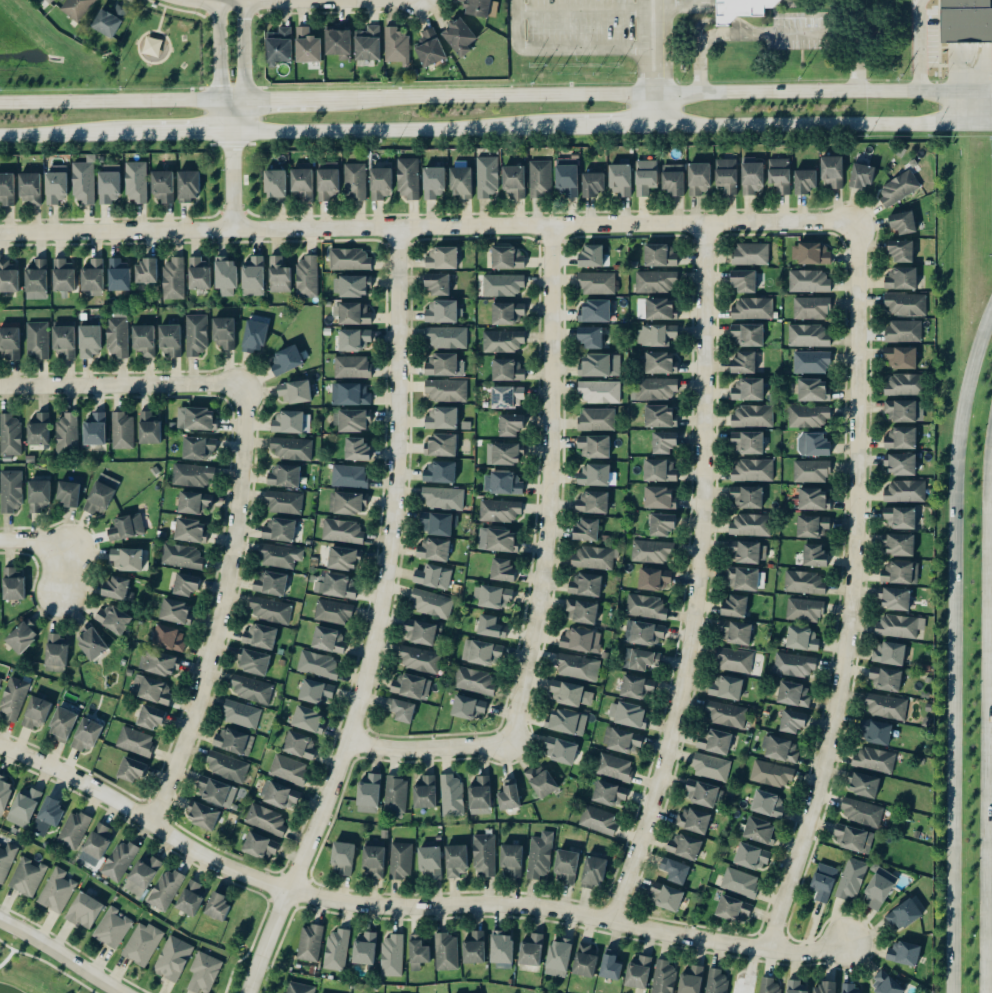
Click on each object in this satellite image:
road: (220, 0)
road: (332, 0)
building: (50, 1)
road: (225, 1)
building: (481, 7)
building: (77, 8)
building: (741, 9)
building: (962, 19)
building: (109, 21)
road: (724, 22)
road: (643, 24)
road: (749, 28)
road: (697, 29)
road: (838, 35)
building: (460, 36)
road: (731, 36)
building: (338, 43)
building: (368, 43)
road: (243, 45)
building: (152, 46)
building: (279, 46)
building: (308, 46)
building: (397, 46)
building: (430, 48)
road: (557, 48)
road: (663, 48)
park: (158, 51)
road: (219, 68)
road: (646, 72)
road: (700, 73)
road: (824, 94)
road: (503, 100)
road: (296, 106)
road: (109, 108)
road: (230, 108)
road: (969, 109)
road: (240, 112)
road: (656, 112)
road: (496, 130)
building: (832, 171)
building: (727, 175)
building: (780, 175)
building: (752, 176)
building: (861, 176)
building: (488, 177)
building: (646, 177)
building: (541, 178)
building: (409, 179)
building: (621, 179)
building: (674, 179)
building: (700, 179)
building: (567, 180)
building: (356, 181)
building: (514, 181)
building: (806, 181)
building: (83, 182)
building: (136, 182)
road: (231, 182)
building: (434, 182)
building: (461, 182)
building: (302, 183)
building: (381, 183)
building: (328, 184)
building: (593, 184)
building: (56, 185)
building: (109, 185)
building: (275, 185)
building: (163, 186)
building: (189, 186)
building: (30, 188)
building: (900, 188)
building: (7, 189)
building: (903, 223)
road: (424, 226)
building: (902, 251)
building: (811, 253)
building: (751, 254)
building: (661, 255)
building: (591, 256)
building: (442, 258)
building: (508, 258)
building: (350, 260)
building: (147, 271)
building: (199, 274)
building: (64, 275)
building: (93, 275)
building: (118, 275)
building: (279, 275)
building: (226, 276)
building: (8, 277)
building: (254, 277)
building: (308, 277)
building: (902, 278)
building: (174, 279)
building: (37, 280)
building: (744, 281)
building: (810, 281)
building: (656, 282)
building: (598, 283)
building: (437, 284)
building: (503, 285)
building: (352, 286)
building: (906, 304)
building: (812, 308)
building: (661, 309)
building: (754, 309)
building: (596, 311)
building: (443, 312)
building: (509, 313)
building: (353, 314)
building: (904, 331)
building: (225, 333)
building: (197, 334)
building: (657, 335)
building: (748, 335)
building: (810, 336)
building: (118, 337)
building: (255, 337)
building: (590, 337)
building: (447, 338)
building: (39, 340)
building: (144, 340)
building: (170, 340)
building: (354, 340)
building: (64, 341)
building: (90, 341)
building: (503, 341)
building: (10, 343)
building: (902, 357)
building: (287, 360)
building: (812, 362)
building: (661, 363)
building: (744, 363)
building: (445, 365)
building: (601, 365)
building: (352, 367)
building: (507, 370)
building: (904, 385)
road: (122, 389)
building: (655, 389)
building: (748, 389)
building: (447, 390)
building: (814, 390)
building: (295, 392)
building: (601, 392)
building: (351, 395)
building: (507, 397)
building: (905, 411)
building: (753, 416)
building: (661, 417)
building: (810, 417)
building: (197, 419)
building: (442, 419)
building: (598, 420)
building: (354, 421)
building: (289, 422)
building: (511, 425)
building: (149, 429)
building: (39, 430)
building: (95, 430)
building: (123, 431)
building: (67, 433)
building: (11, 435)
building: (901, 439)
building: (664, 443)
building: (748, 443)
building: (441, 445)
building: (814, 445)
building: (595, 447)
building: (199, 448)
building: (292, 449)
building: (357, 450)
building: (507, 454)
building: (901, 464)
building: (660, 471)
building: (754, 471)
building: (812, 472)
building: (440, 473)
building: (193, 476)
building: (284, 476)
building: (350, 476)
building: (597, 476)
building: (507, 484)
building: (11, 491)
building: (906, 492)
building: (68, 494)
building: (101, 495)
building: (39, 496)
building: (748, 497)
building: (443, 498)
building: (660, 498)
building: (814, 500)
building: (195, 503)
building: (285, 503)
building: (348, 503)
building: (592, 503)
building: (501, 511)
building: (901, 518)
building: (438, 524)
building: (751, 525)
building: (662, 526)
building: (127, 527)
building: (812, 527)
building: (280, 530)
building: (586, 530)
building: (191, 531)
building: (343, 532)
building: (497, 540)
road: (58, 544)
building: (899, 545)
building: (434, 550)
building: (653, 552)
building: (748, 552)
building: (280, 556)
building: (815, 556)
building: (182, 557)
building: (594, 558)
building: (343, 559)
building: (127, 560)
road: (543, 562)
building: (502, 570)
building: (901, 573)
building: (433, 577)
road: (697, 579)
building: (746, 579)
building: (655, 580)
building: (804, 583)
building: (13, 584)
building: (270, 584)
building: (186, 585)
building: (586, 585)
building: (336, 586)
building: (118, 589)
road: (849, 594)
building: (493, 597)
building: (895, 599)
building: (432, 604)
building: (646, 607)
building: (734, 607)
road: (222, 610)
building: (805, 610)
building: (174, 611)
building: (271, 611)
building: (582, 611)
building: (334, 612)
building: (113, 620)
road: (380, 621)
building: (491, 627)
building: (900, 627)
building: (420, 632)
building: (735, 633)
building: (645, 634)
building: (21, 637)
building: (260, 637)
building: (169, 638)
building: (803, 639)
building: (328, 640)
building: (581, 640)
building: (91, 643)
road: (952, 648)
building: (56, 652)
building: (482, 653)
building: (890, 654)
building: (639, 659)
building: (420, 660)
building: (734, 660)
building: (254, 663)
building: (160, 664)
building: (319, 665)
building: (796, 665)
building: (578, 667)
building: (886, 679)
building: (0, 680)
building: (476, 681)
building: (411, 687)
building: (637, 687)
building: (726, 688)
building: (153, 690)
building: (252, 690)
building: (316, 693)
building: (571, 694)
building: (794, 695)
building: (14, 699)
building: (886, 707)
building: (468, 708)
building: (401, 710)
building: (36, 714)
building: (242, 715)
building: (628, 715)
building: (725, 715)
road: (986, 716)
building: (151, 718)
building: (308, 720)
building: (568, 723)
building: (792, 723)
building: (62, 725)
building: (876, 733)
building: (86, 736)
building: (623, 741)
building: (136, 742)
building: (233, 742)
building: (716, 742)
building: (300, 746)
building: (781, 750)
building: (561, 751)
building: (875, 761)
building: (228, 767)
building: (615, 768)
building: (712, 768)
building: (132, 770)
building: (289, 770)
building: (773, 774)
building: (542, 781)
building: (864, 787)
building: (5, 792)
building: (217, 793)
building: (425, 793)
building: (369, 794)
building: (703, 794)
building: (480, 795)
building: (609, 795)
building: (281, 796)
building: (396, 796)
building: (452, 796)
building: (509, 799)
building: (769, 805)
building: (24, 807)
building: (862, 813)
building: (48, 816)
building: (204, 817)
building: (266, 820)
building: (599, 821)
building: (694, 821)
building: (74, 830)
building: (760, 831)
building: (853, 839)
building: (99, 841)
building: (260, 846)
building: (685, 847)
building: (485, 854)
building: (541, 856)
building: (752, 857)
building: (343, 859)
building: (512, 859)
building: (374, 860)
building: (402, 860)
building: (457, 860)
building: (7, 861)
building: (430, 861)
building: (120, 862)
building: (566, 866)
building: (594, 870)
building: (675, 870)
building: (143, 875)
building: (28, 876)
building: (852, 879)
building: (824, 881)
building: (741, 883)
building: (878, 888)
building: (166, 889)
building: (58, 891)
building: (191, 896)
building: (667, 896)
building: (217, 906)
road: (408, 907)
building: (734, 908)
building: (84, 910)
building: (904, 914)
building: (113, 928)
building: (311, 942)
building: (143, 943)
building: (474, 947)
building: (501, 947)
building: (364, 948)
building: (337, 949)
building: (531, 949)
building: (447, 952)
building: (419, 953)
building: (904, 953)
road: (63, 955)
building: (392, 955)
building: (558, 957)
building: (173, 958)
building: (585, 959)
building: (611, 965)
building: (205, 972)
building: (638, 972)
building: (664, 976)
building: (692, 979)
building: (716, 981)
building: (745, 984)
building: (886, 984)
building: (771, 986)
building: (795, 986)
building: (826, 987)
building: (849, 987)
building: (300, 988)

